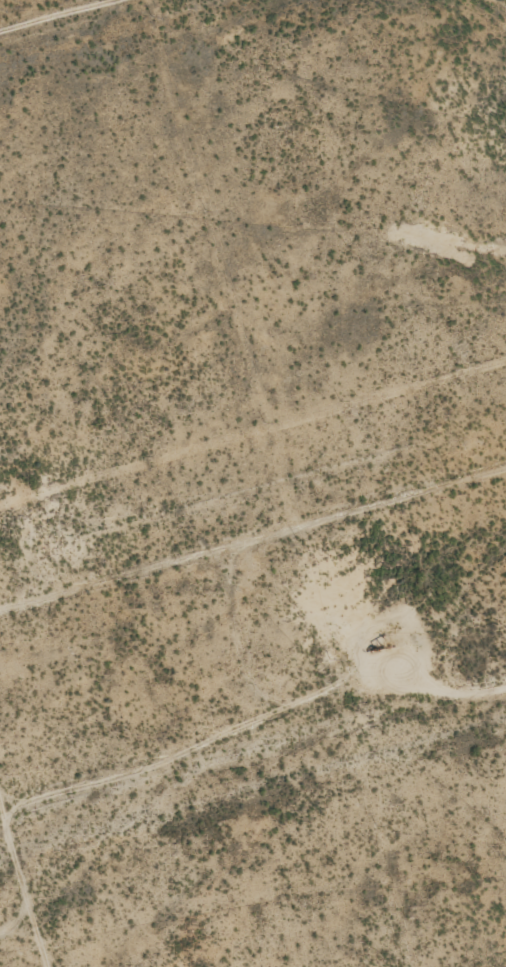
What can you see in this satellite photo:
road: (74, 21)

